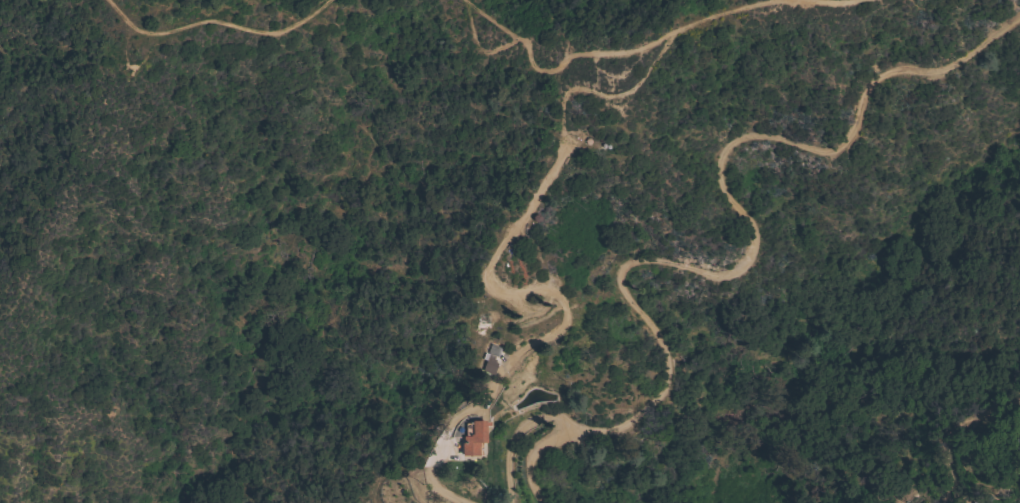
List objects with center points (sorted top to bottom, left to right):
road: (831, 2)
road: (746, 230)
road: (504, 241)
building: (488, 364)
road: (532, 424)
building: (471, 437)
building: (1018, 439)

